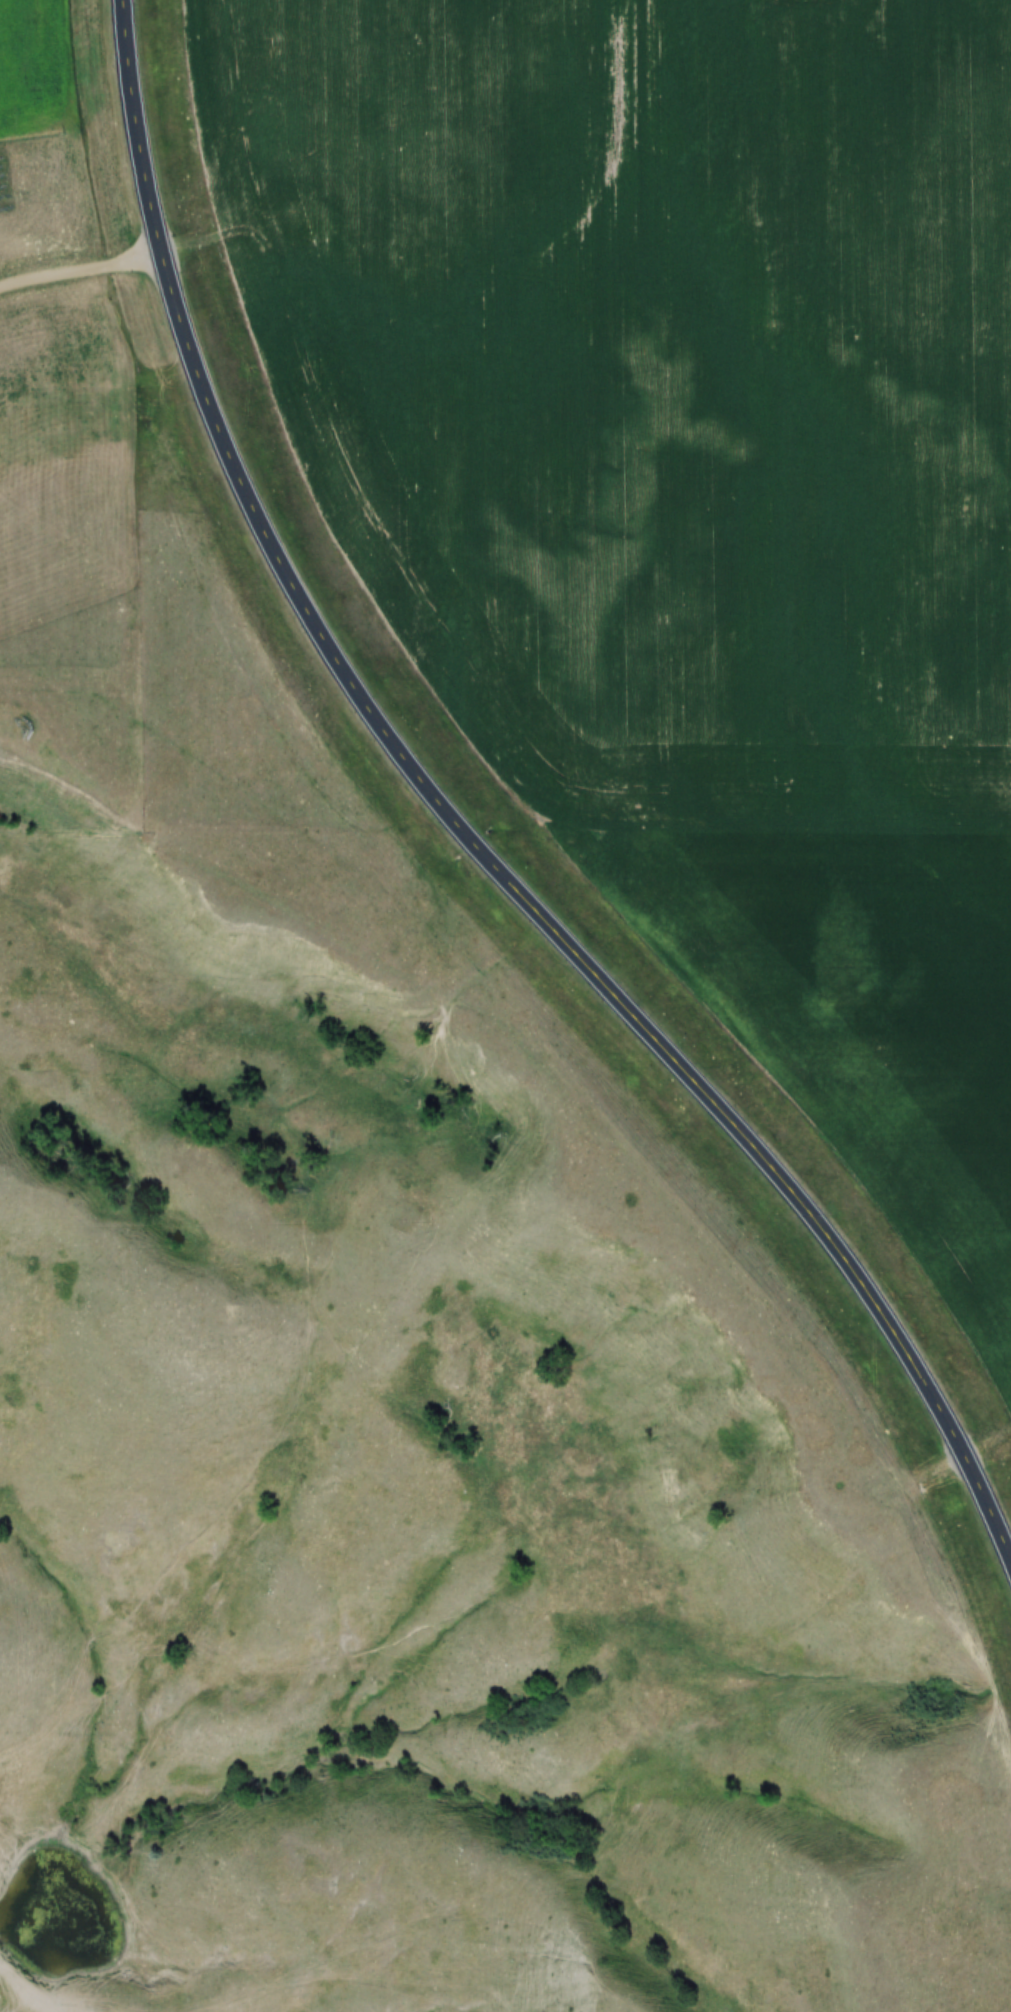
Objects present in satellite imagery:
road: (79, 266)
road: (462, 841)

